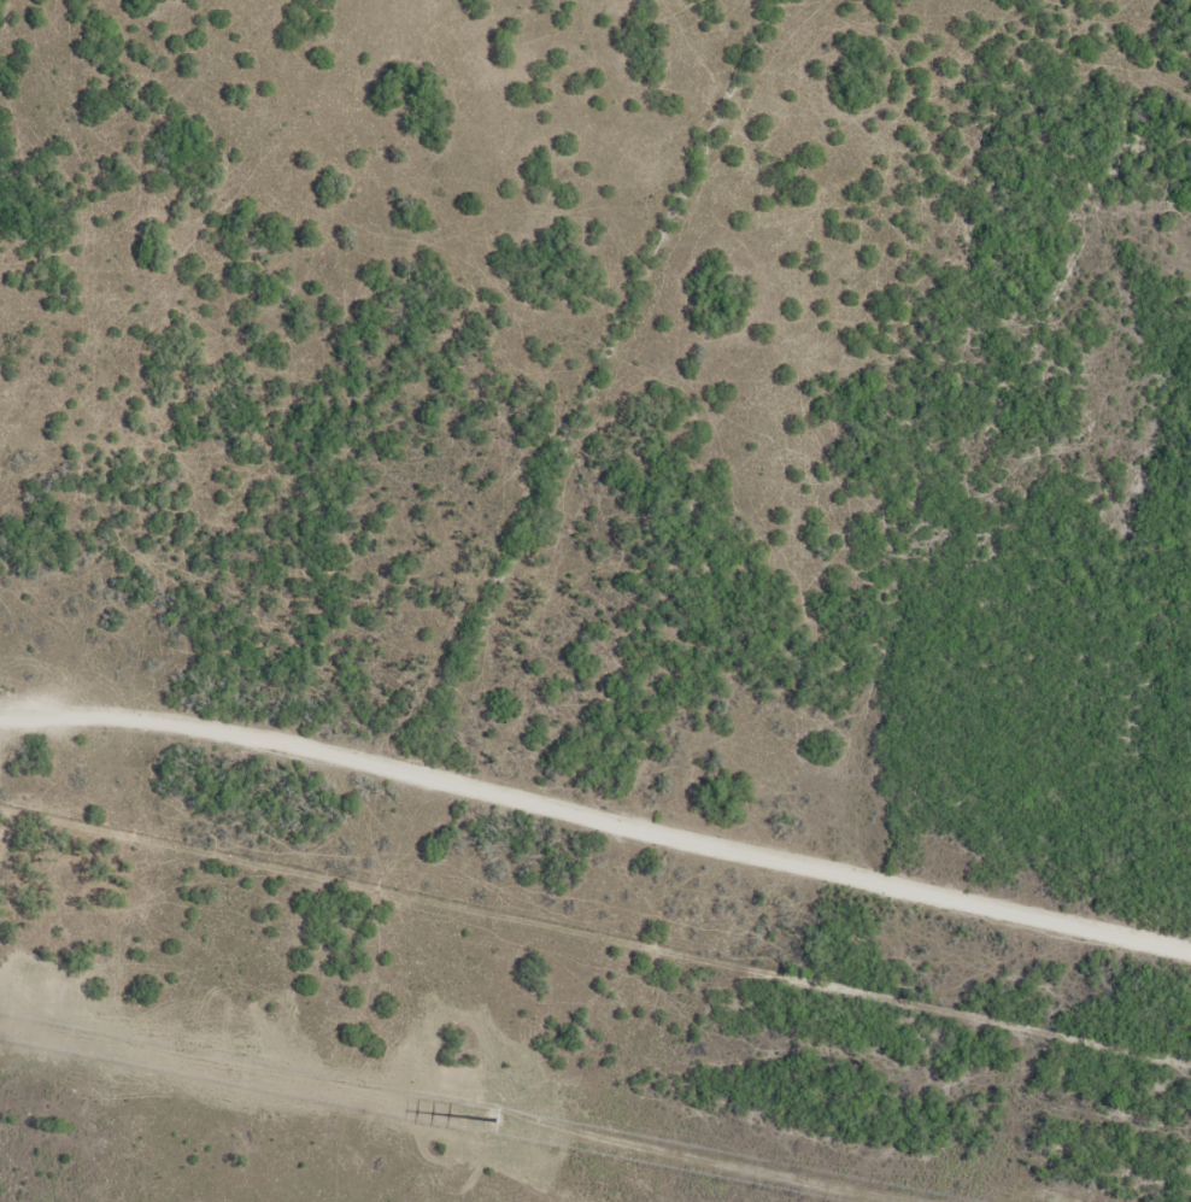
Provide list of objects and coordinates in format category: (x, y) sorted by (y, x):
road: (464, 362)
road: (597, 809)
power tower: (498, 1124)

